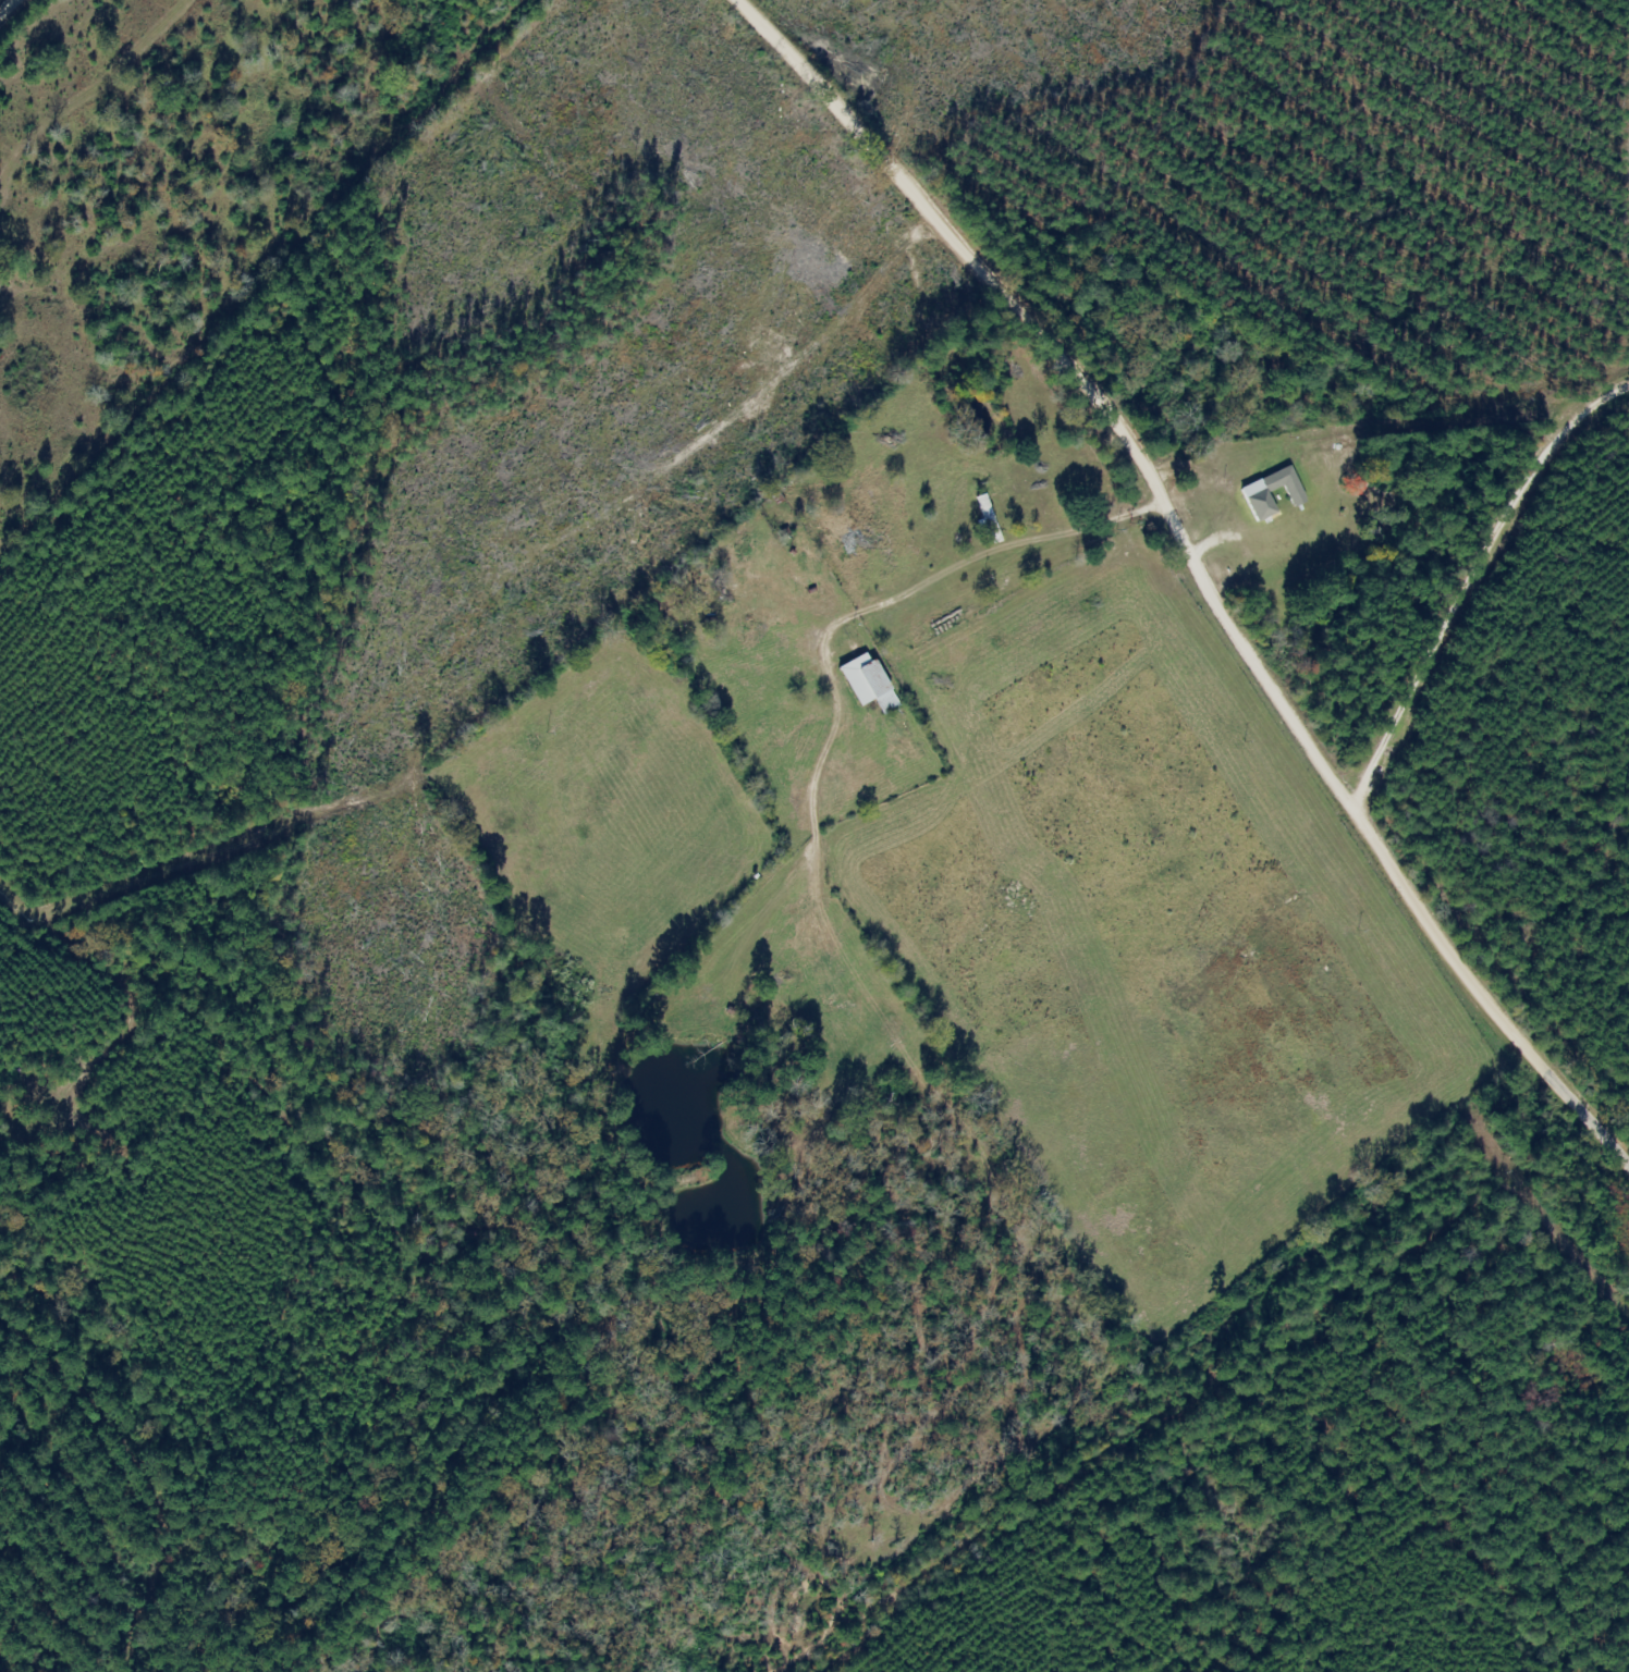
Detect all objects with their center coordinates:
road: (8, 7)
road: (965, 242)
road: (1269, 447)
building: (1257, 496)
building: (866, 683)
road: (1348, 788)
road: (1533, 859)
road: (1599, 1121)

